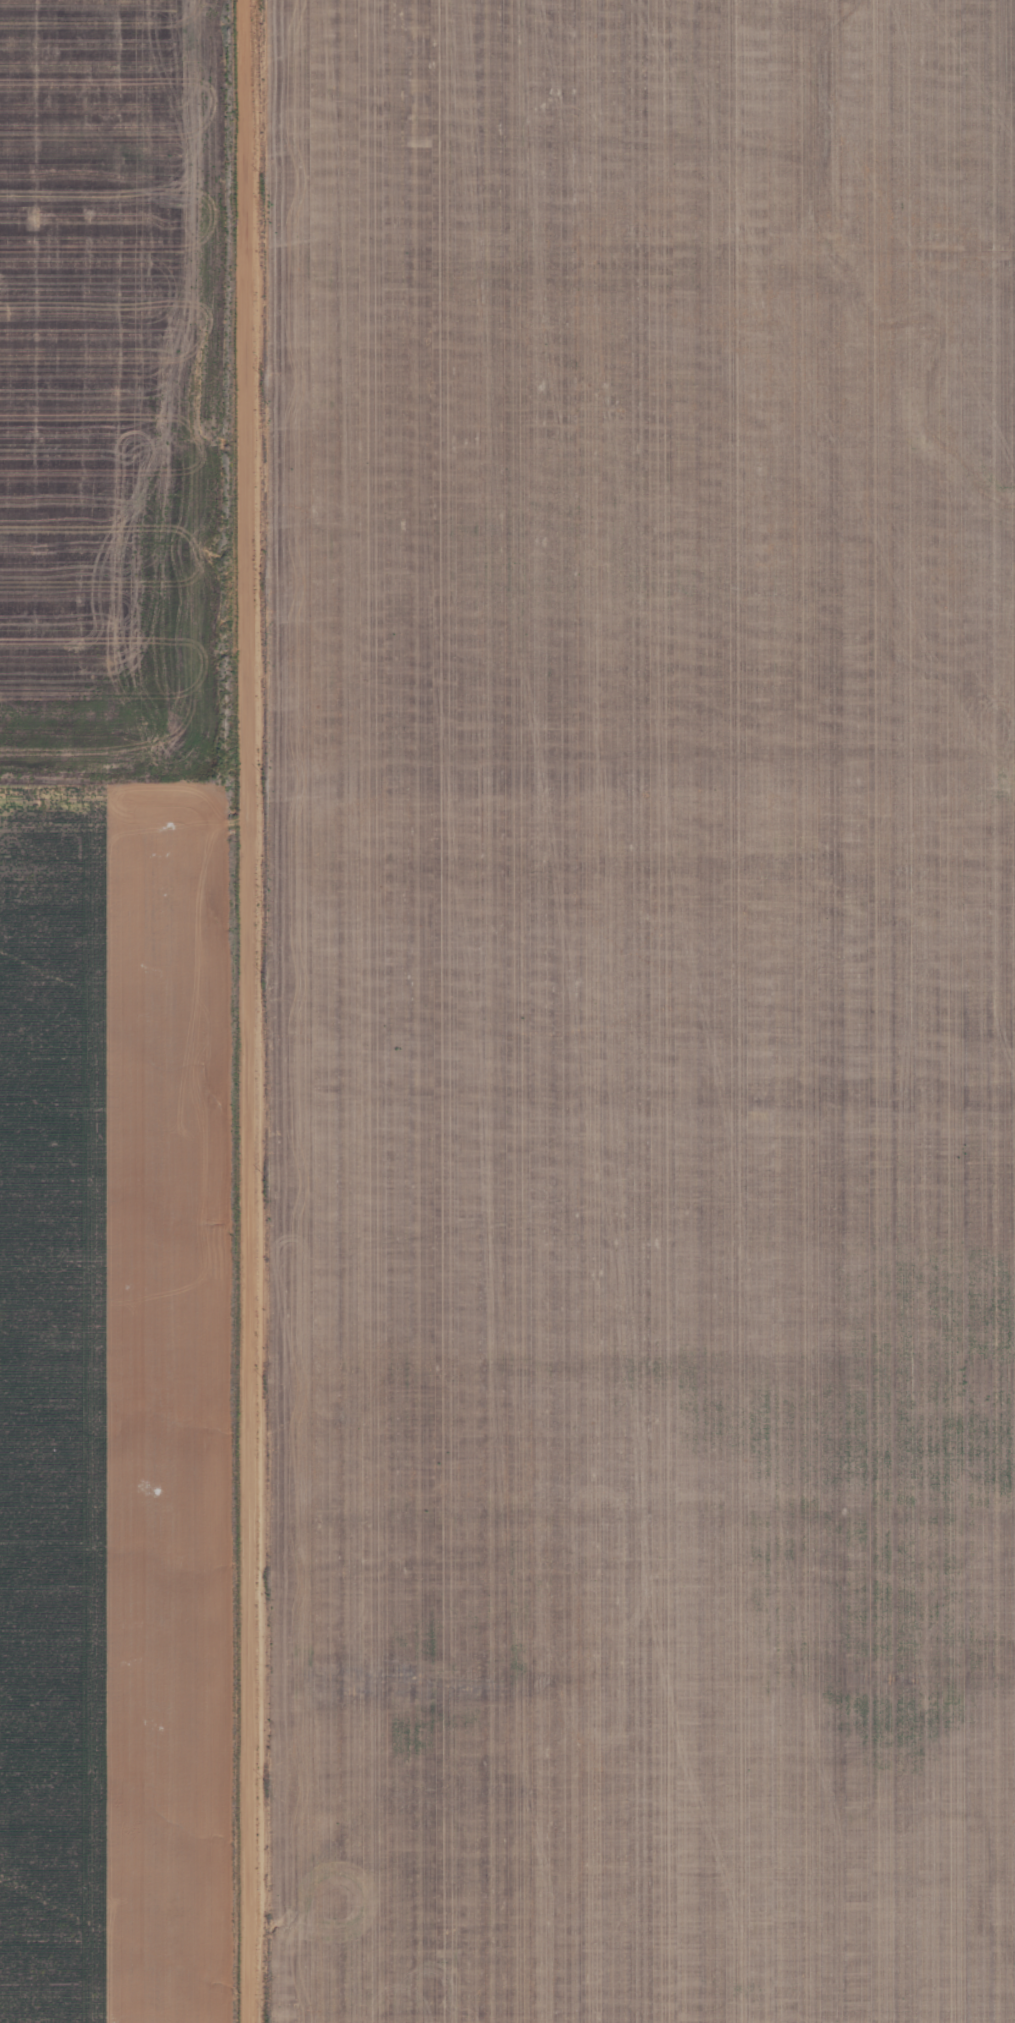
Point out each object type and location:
road: (127, 138)
road: (254, 1011)

